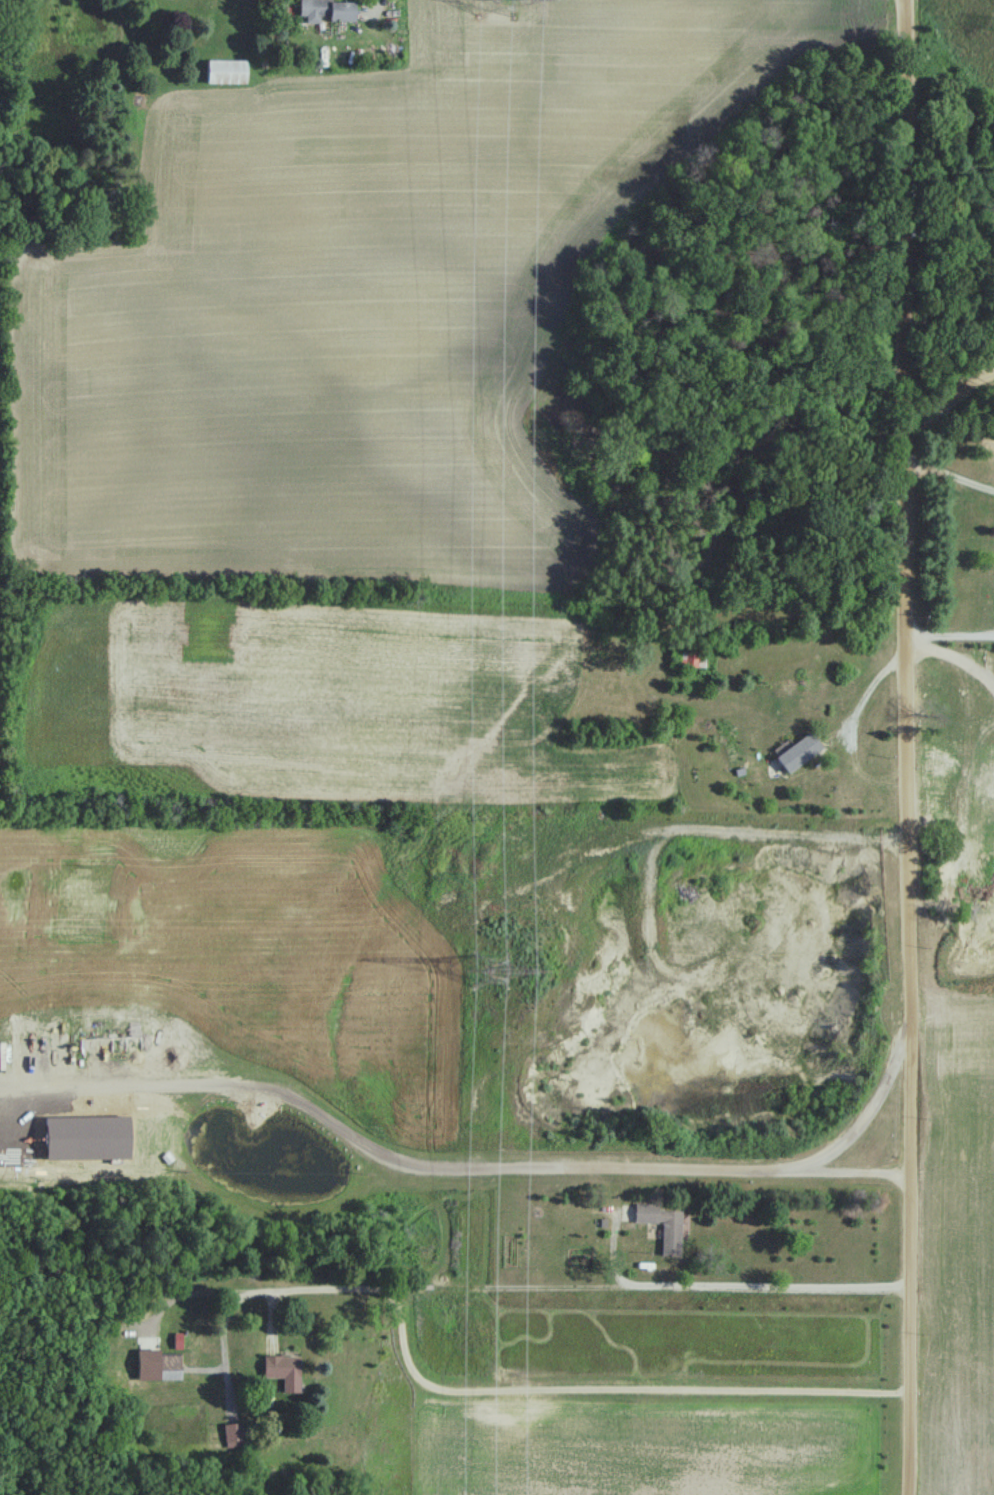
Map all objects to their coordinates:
building: (328, 9)
building: (228, 71)
road: (951, 371)
road: (950, 474)
road: (952, 624)
road: (831, 718)
road: (911, 747)
building: (799, 751)
power tower: (494, 968)
building: (98, 1045)
road: (868, 1108)
road: (445, 1167)
building: (664, 1223)
road: (180, 1293)
building: (170, 1365)
building: (281, 1366)
road: (500, 1392)
building: (231, 1431)

